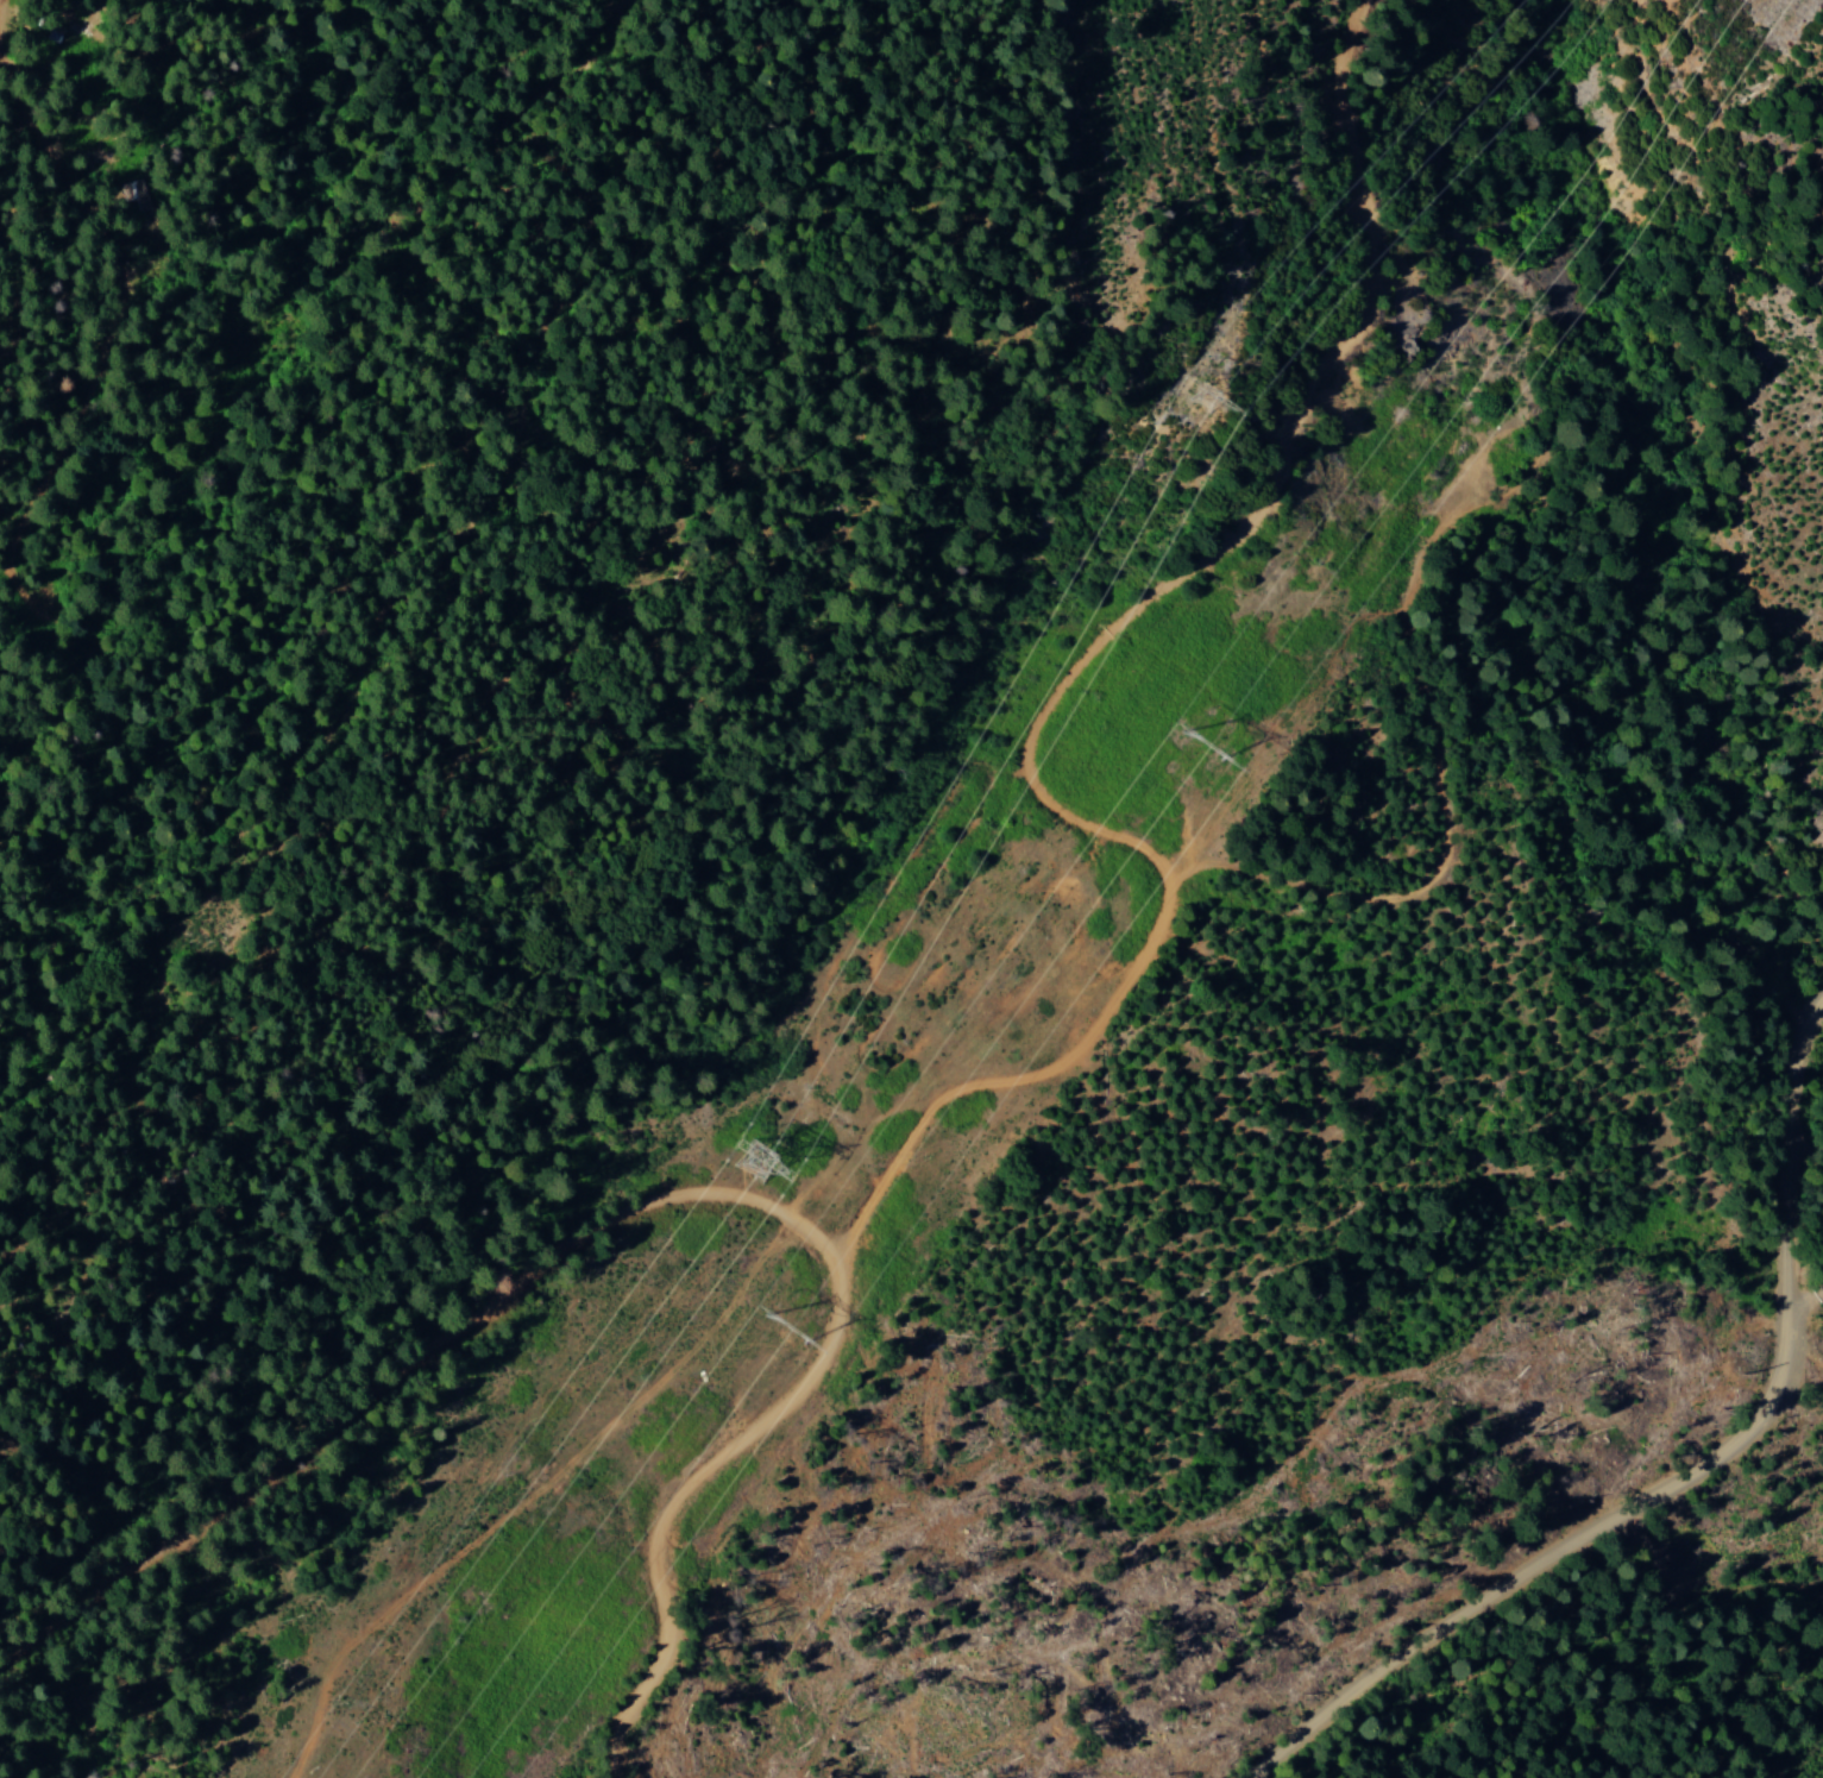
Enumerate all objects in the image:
building: (137, 196)
road: (224, 346)
power tower: (1203, 377)
power tower: (1200, 730)
road: (1200, 886)
power tower: (755, 1149)
road: (636, 1230)
road: (1793, 1302)
power tower: (771, 1317)
road: (1697, 1477)

